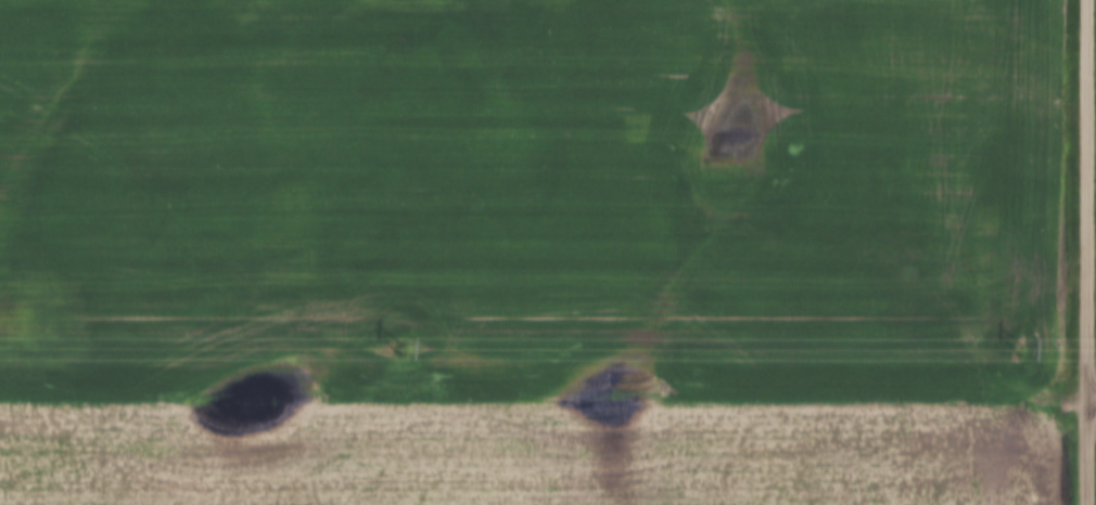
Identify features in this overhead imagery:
road: (1091, 251)
road: (1093, 396)

